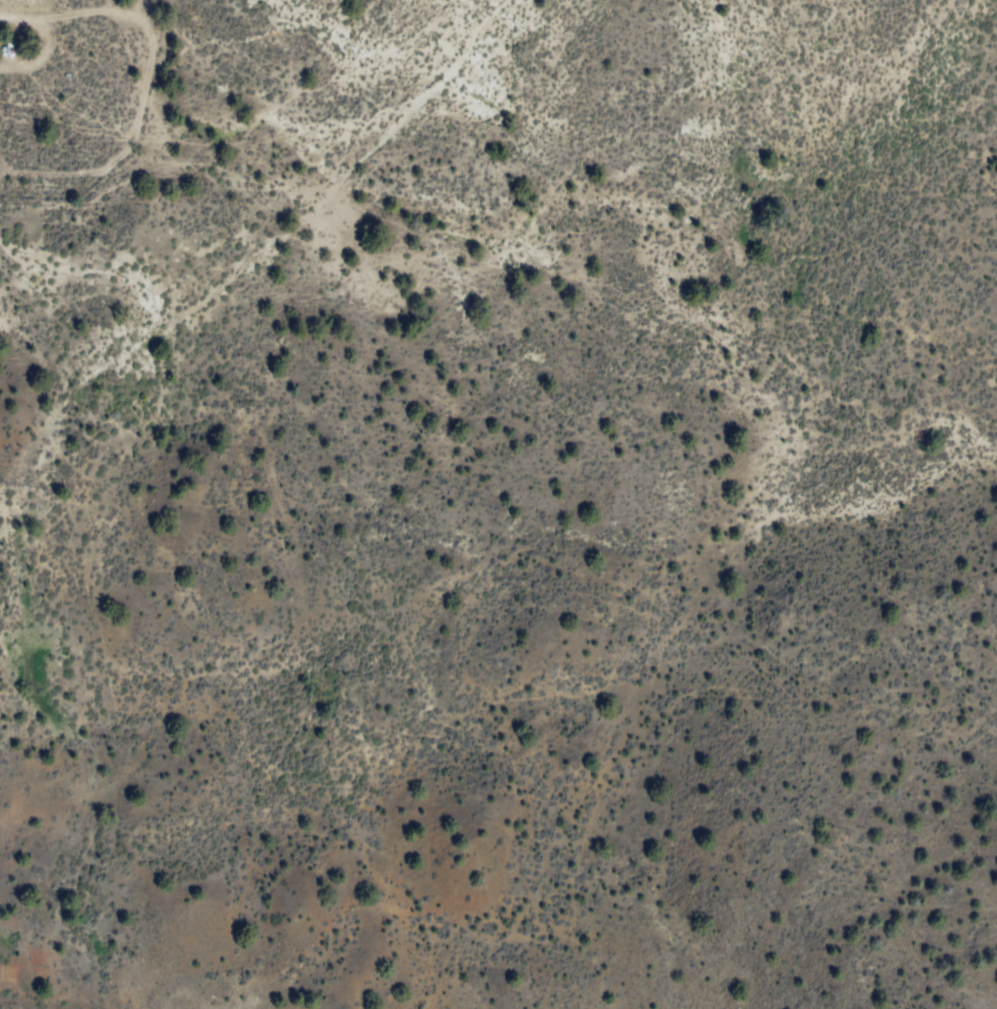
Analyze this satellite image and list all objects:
road: (135, 78)

